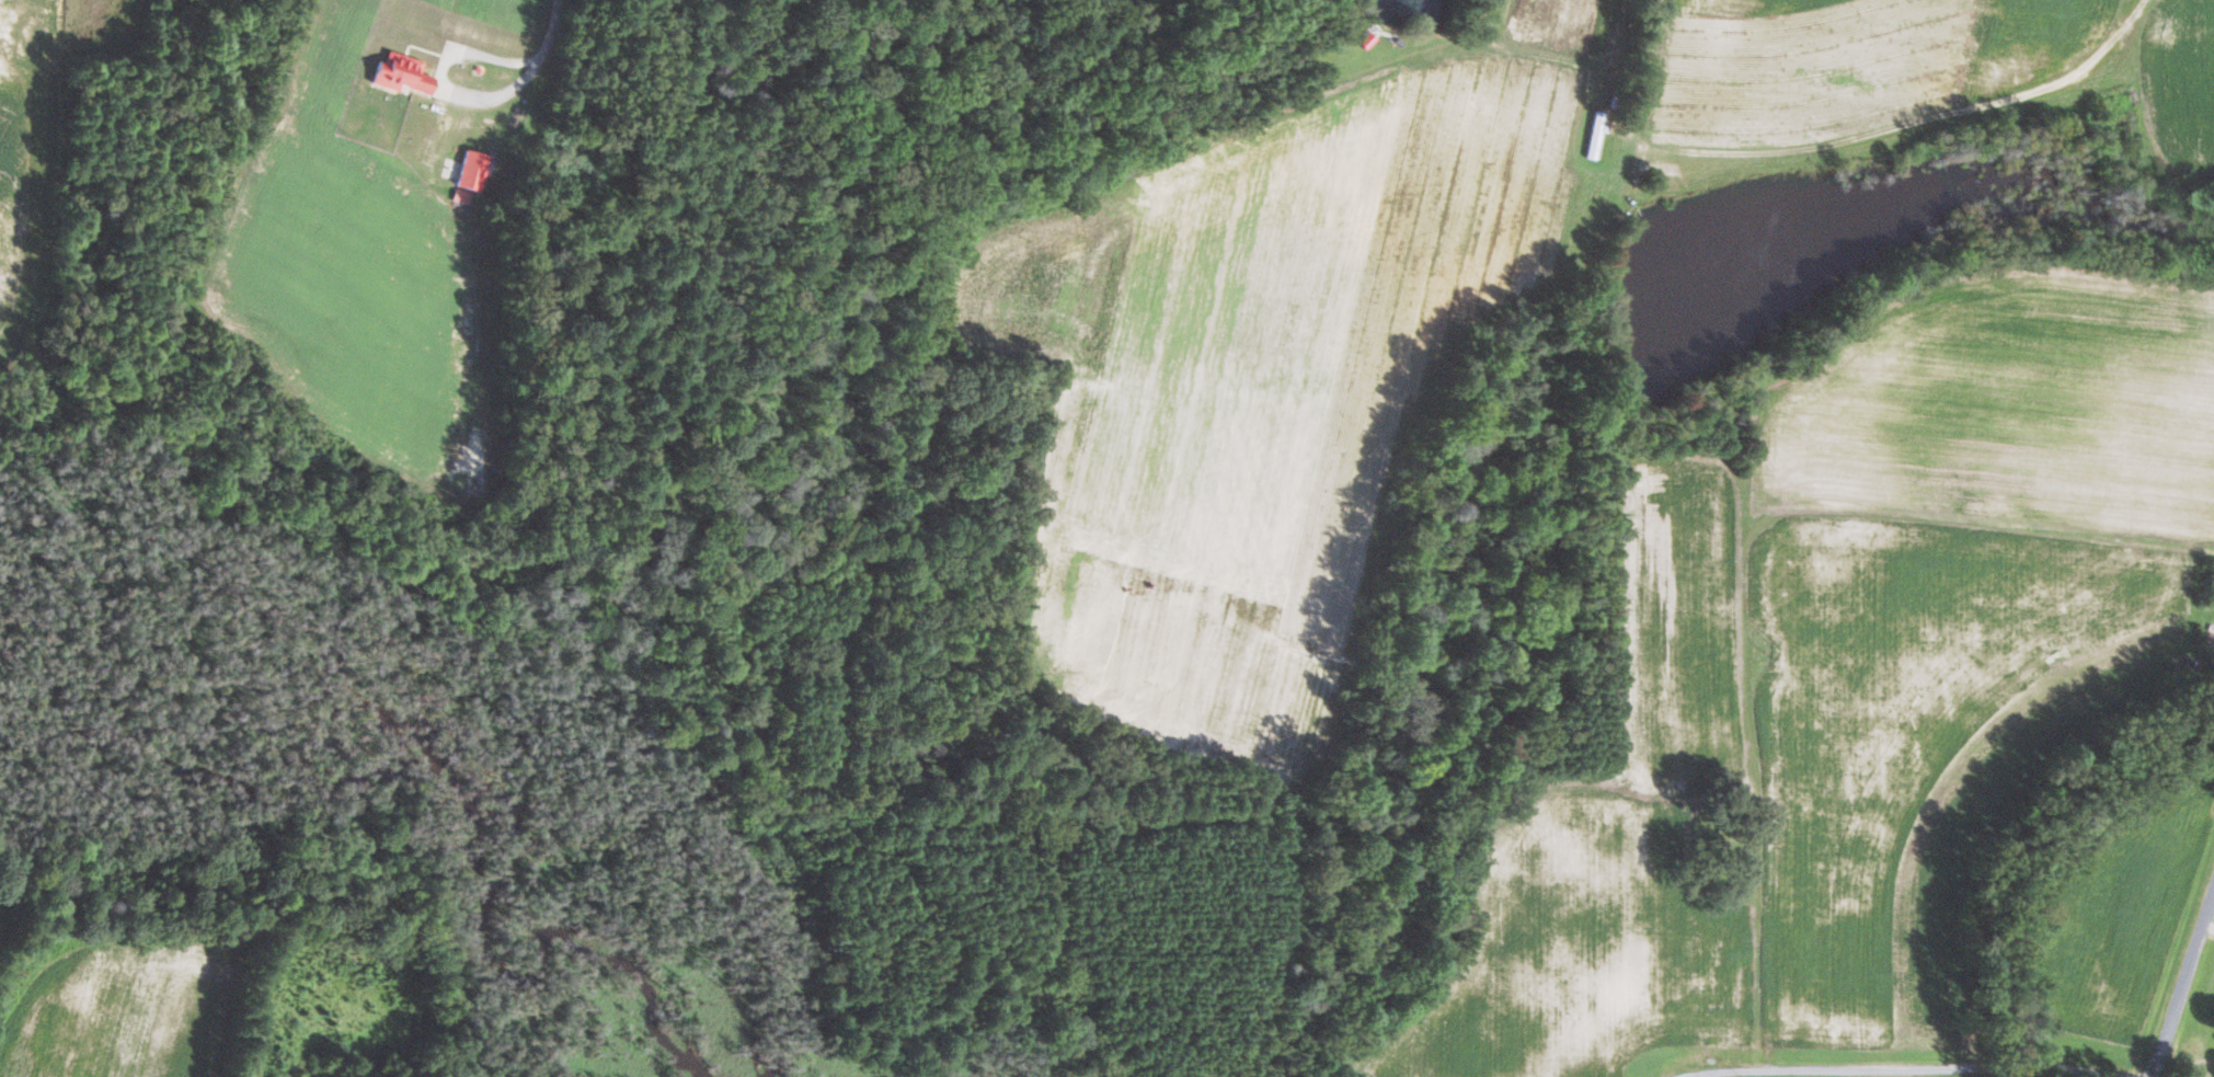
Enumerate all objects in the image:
road: (550, 31)
building: (403, 75)
road: (434, 82)
road: (1926, 121)
building: (471, 176)
river: (452, 734)
road: (2207, 926)
road: (2181, 979)
road: (1913, 1068)

